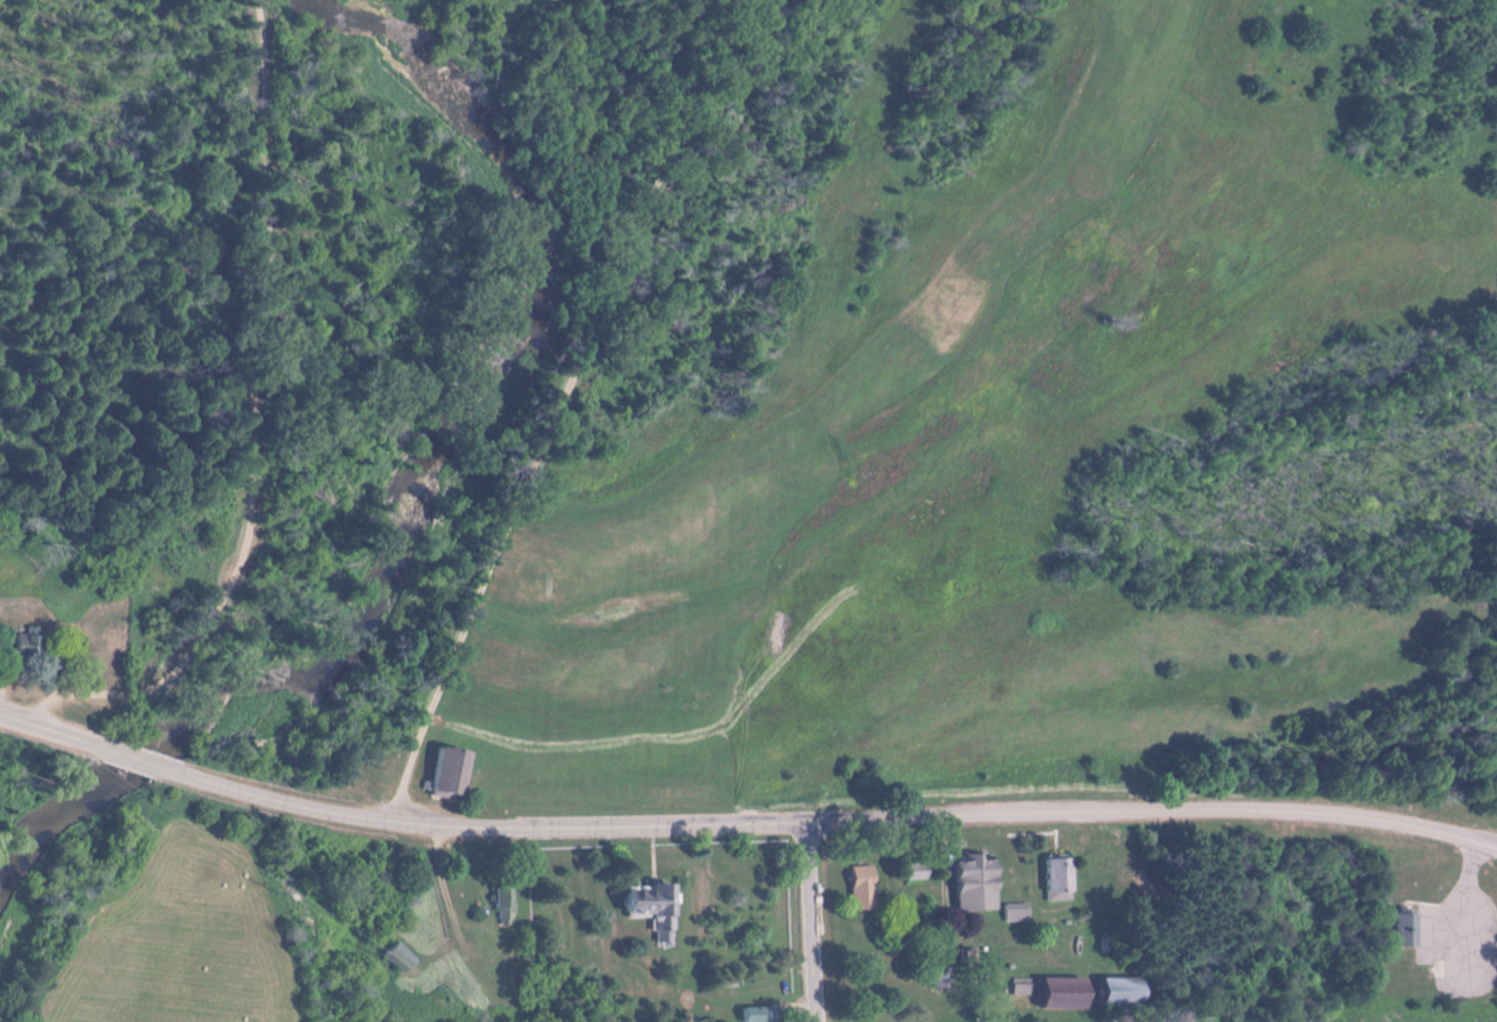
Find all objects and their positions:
road: (559, 409)
road: (254, 422)
river: (411, 489)
building: (27, 645)
road: (52, 731)
road: (138, 760)
building: (449, 775)
road: (832, 820)
building: (917, 872)
building: (1129, 877)
building: (1059, 879)
building: (977, 883)
building: (862, 888)
building: (503, 907)
building: (655, 908)
building: (1017, 913)
road: (809, 922)
building: (1406, 930)
building: (399, 958)
building: (940, 977)
building: (1021, 988)
building: (1122, 991)
building: (1064, 993)
building: (760, 1015)

